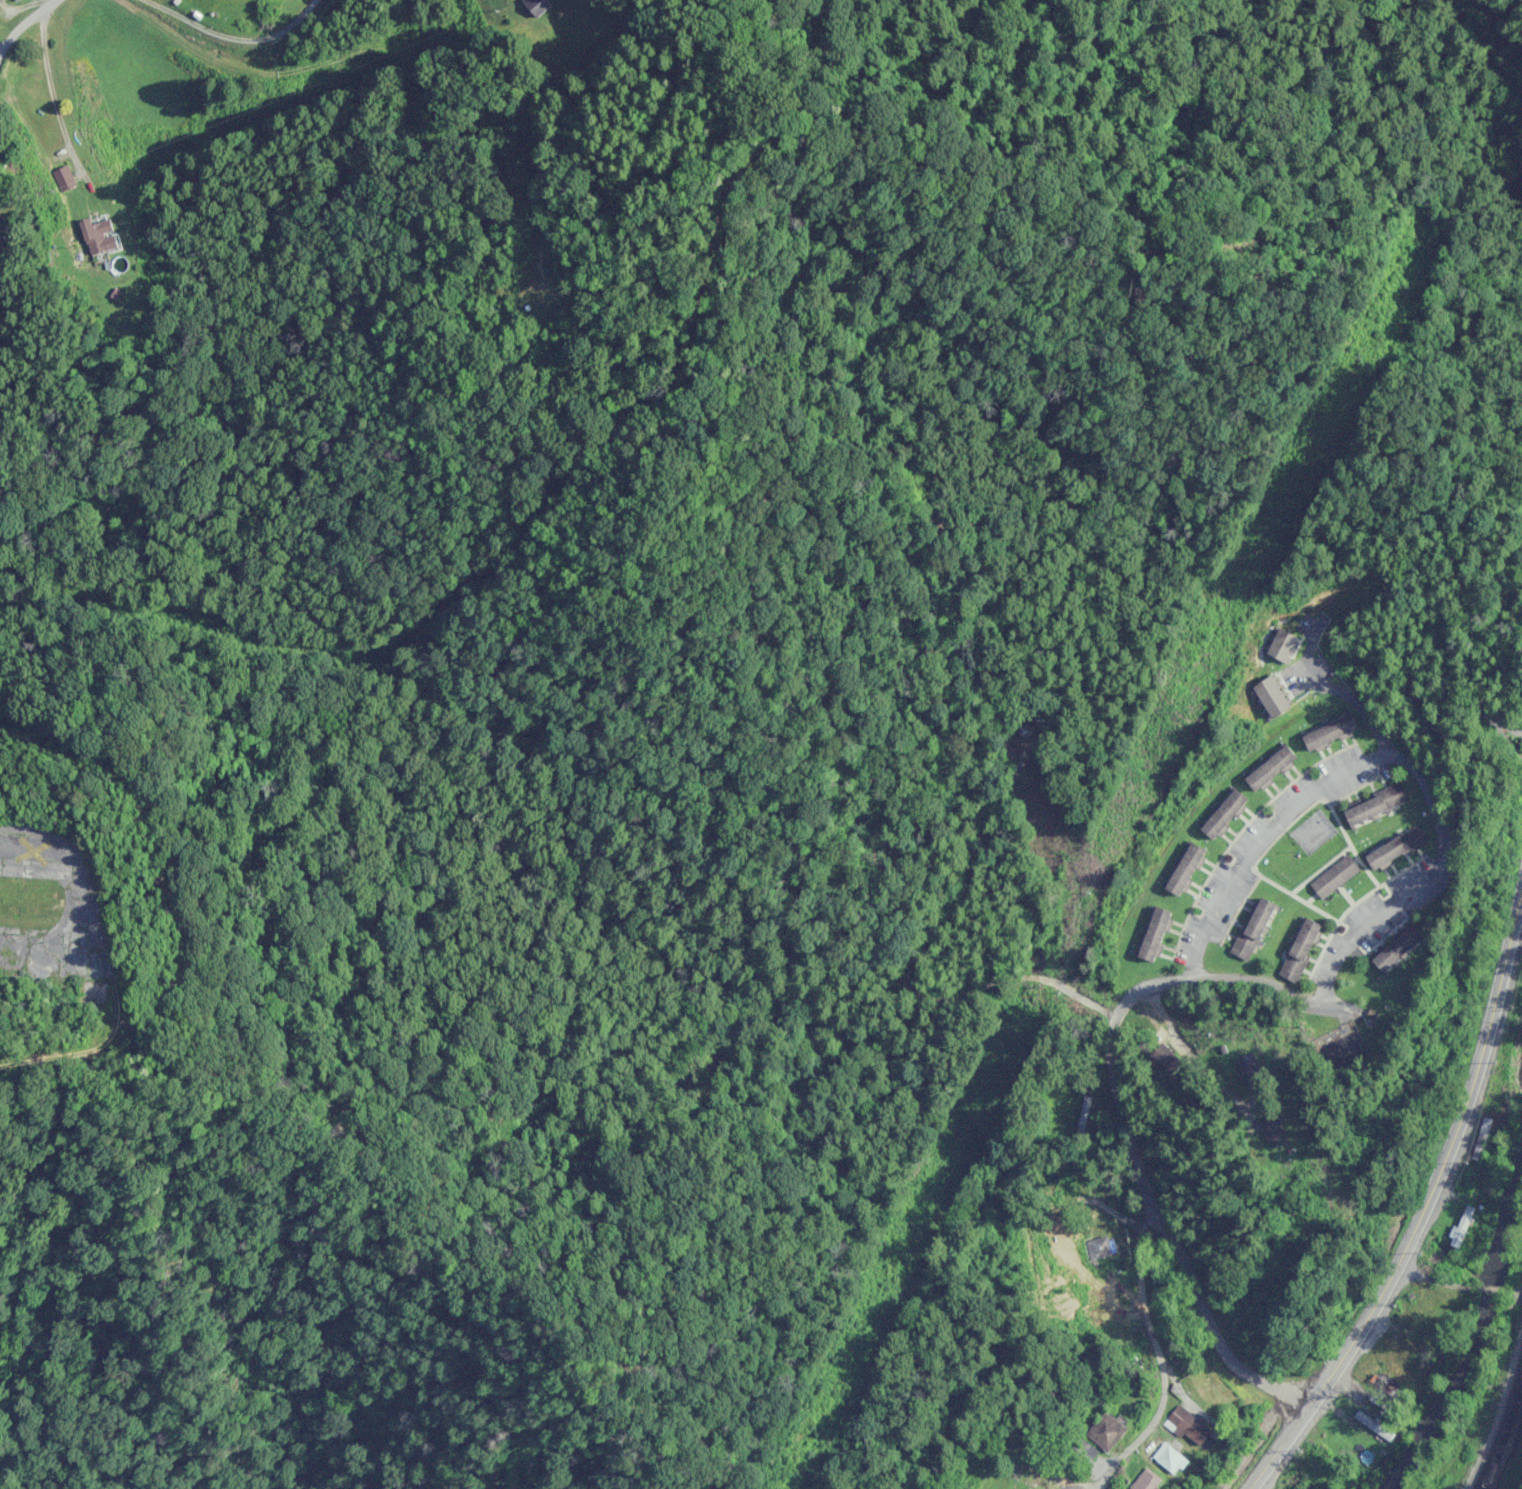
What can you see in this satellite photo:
building: (0, 0)
building: (16, 0)
building: (538, 7)
road: (273, 17)
road: (34, 57)
building: (66, 179)
building: (101, 237)
road: (1426, 714)
building: (1333, 733)
building: (1274, 768)
building: (1379, 805)
building: (1227, 814)
building: (1400, 848)
building: (1188, 869)
building: (1337, 876)
road: (1209, 923)
building: (1257, 929)
building: (1158, 934)
building: (1401, 948)
building: (1303, 950)
building: (1168, 1059)
road: (1202, 1061)
building: (1253, 1068)
building: (1087, 1112)
building: (1278, 1130)
road: (1150, 1199)
road: (1424, 1211)
building: (1468, 1213)
building: (1102, 1248)
road: (1459, 1280)
road: (1162, 1356)
railway: (1502, 1422)
building: (1192, 1424)
building: (1376, 1426)
building: (1109, 1432)
road: (1254, 1441)
railway: (1505, 1442)
building: (1085, 1452)
building: (1172, 1459)
building: (1064, 1478)
building: (1150, 1481)

